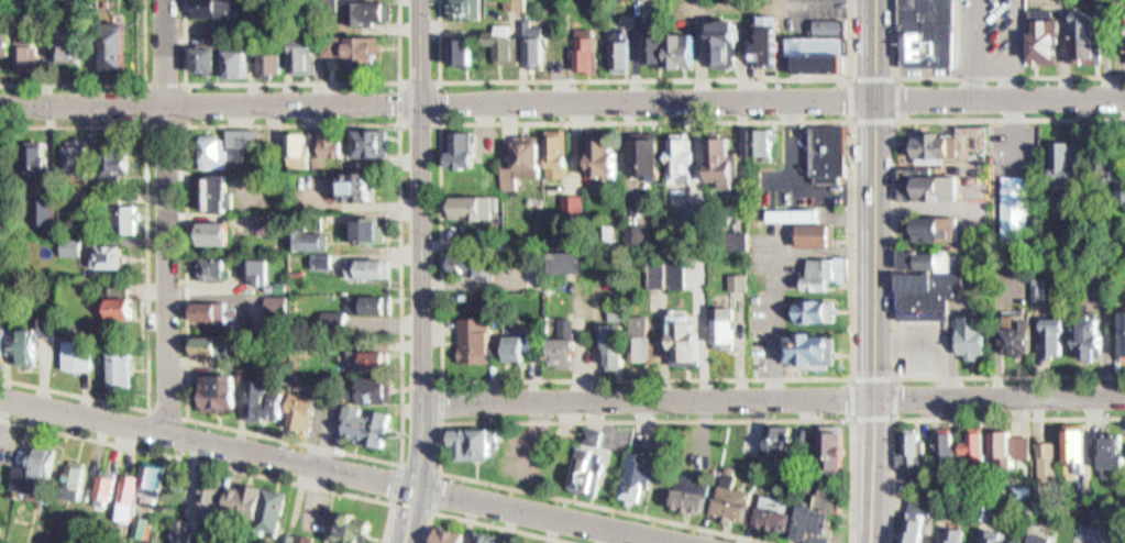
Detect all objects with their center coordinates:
building: (520, 4)
building: (216, 7)
building: (467, 9)
building: (928, 9)
building: (375, 12)
building: (832, 24)
building: (1090, 33)
building: (1047, 34)
building: (8, 41)
building: (769, 41)
building: (73, 42)
building: (659, 42)
building: (727, 42)
building: (541, 43)
building: (928, 43)
building: (509, 44)
building: (334, 45)
building: (117, 46)
building: (29, 48)
building: (624, 48)
building: (687, 49)
building: (366, 51)
building: (467, 52)
building: (823, 52)
building: (591, 53)
building: (308, 55)
building: (209, 57)
building: (272, 59)
building: (241, 62)
road: (972, 75)
road: (893, 76)
road: (643, 78)
road: (185, 81)
road: (291, 81)
road: (112, 82)
road: (562, 100)
road: (441, 121)
building: (246, 136)
building: (765, 141)
building: (335, 142)
building: (371, 142)
building: (300, 144)
building: (938, 144)
building: (464, 148)
building: (214, 152)
building: (829, 152)
building: (562, 154)
building: (3, 155)
building: (1016, 156)
building: (609, 157)
building: (651, 157)
building: (82, 158)
building: (685, 158)
building: (1065, 158)
building: (728, 160)
building: (48, 162)
building: (1110, 162)
building: (117, 163)
building: (527, 163)
parking lot: (1008, 182)
building: (939, 186)
building: (359, 187)
building: (216, 192)
building: (577, 204)
building: (44, 209)
building: (479, 211)
building: (698, 214)
building: (796, 214)
road: (165, 217)
building: (128, 219)
building: (937, 228)
building: (372, 229)
building: (211, 232)
building: (820, 235)
road: (895, 246)
building: (112, 256)
building: (575, 263)
building: (473, 265)
building: (214, 267)
building: (372, 268)
road: (146, 270)
building: (258, 270)
road: (422, 271)
building: (673, 271)
road: (873, 271)
building: (827, 274)
building: (929, 291)
building: (277, 304)
building: (372, 304)
building: (125, 307)
building: (219, 310)
building: (818, 311)
building: (54, 328)
building: (728, 328)
building: (1050, 333)
building: (1122, 333)
building: (974, 334)
building: (692, 336)
building: (646, 339)
building: (1021, 339)
building: (479, 340)
building: (5, 342)
building: (1088, 342)
building: (569, 343)
building: (214, 345)
building: (35, 346)
building: (523, 346)
building: (619, 347)
building: (815, 348)
building: (81, 354)
building: (379, 358)
building: (123, 372)
road: (849, 376)
road: (895, 377)
road: (443, 378)
building: (380, 389)
building: (223, 392)
road: (773, 397)
building: (272, 402)
building: (308, 412)
road: (1010, 417)
road: (187, 418)
road: (514, 420)
road: (210, 423)
building: (371, 425)
building: (783, 441)
road: (209, 442)
building: (478, 442)
building: (999, 444)
building: (977, 446)
building: (1023, 446)
building: (915, 448)
building: (1079, 448)
building: (830, 451)
building: (948, 452)
building: (1114, 452)
building: (587, 455)
building: (1048, 461)
road: (216, 465)
building: (42, 473)
building: (640, 476)
building: (73, 477)
road: (890, 479)
building: (104, 485)
building: (129, 488)
building: (701, 494)
building: (210, 498)
building: (271, 510)
road: (433, 511)
building: (923, 512)
building: (779, 513)
road: (549, 516)
building: (825, 519)
road: (490, 524)
building: (355, 525)
building: (183, 531)
building: (441, 533)
building: (958, 534)
building: (1001, 535)
building: (455, 536)
building: (479, 536)
building: (489, 538)
building: (1039, 539)
building: (1069, 542)

